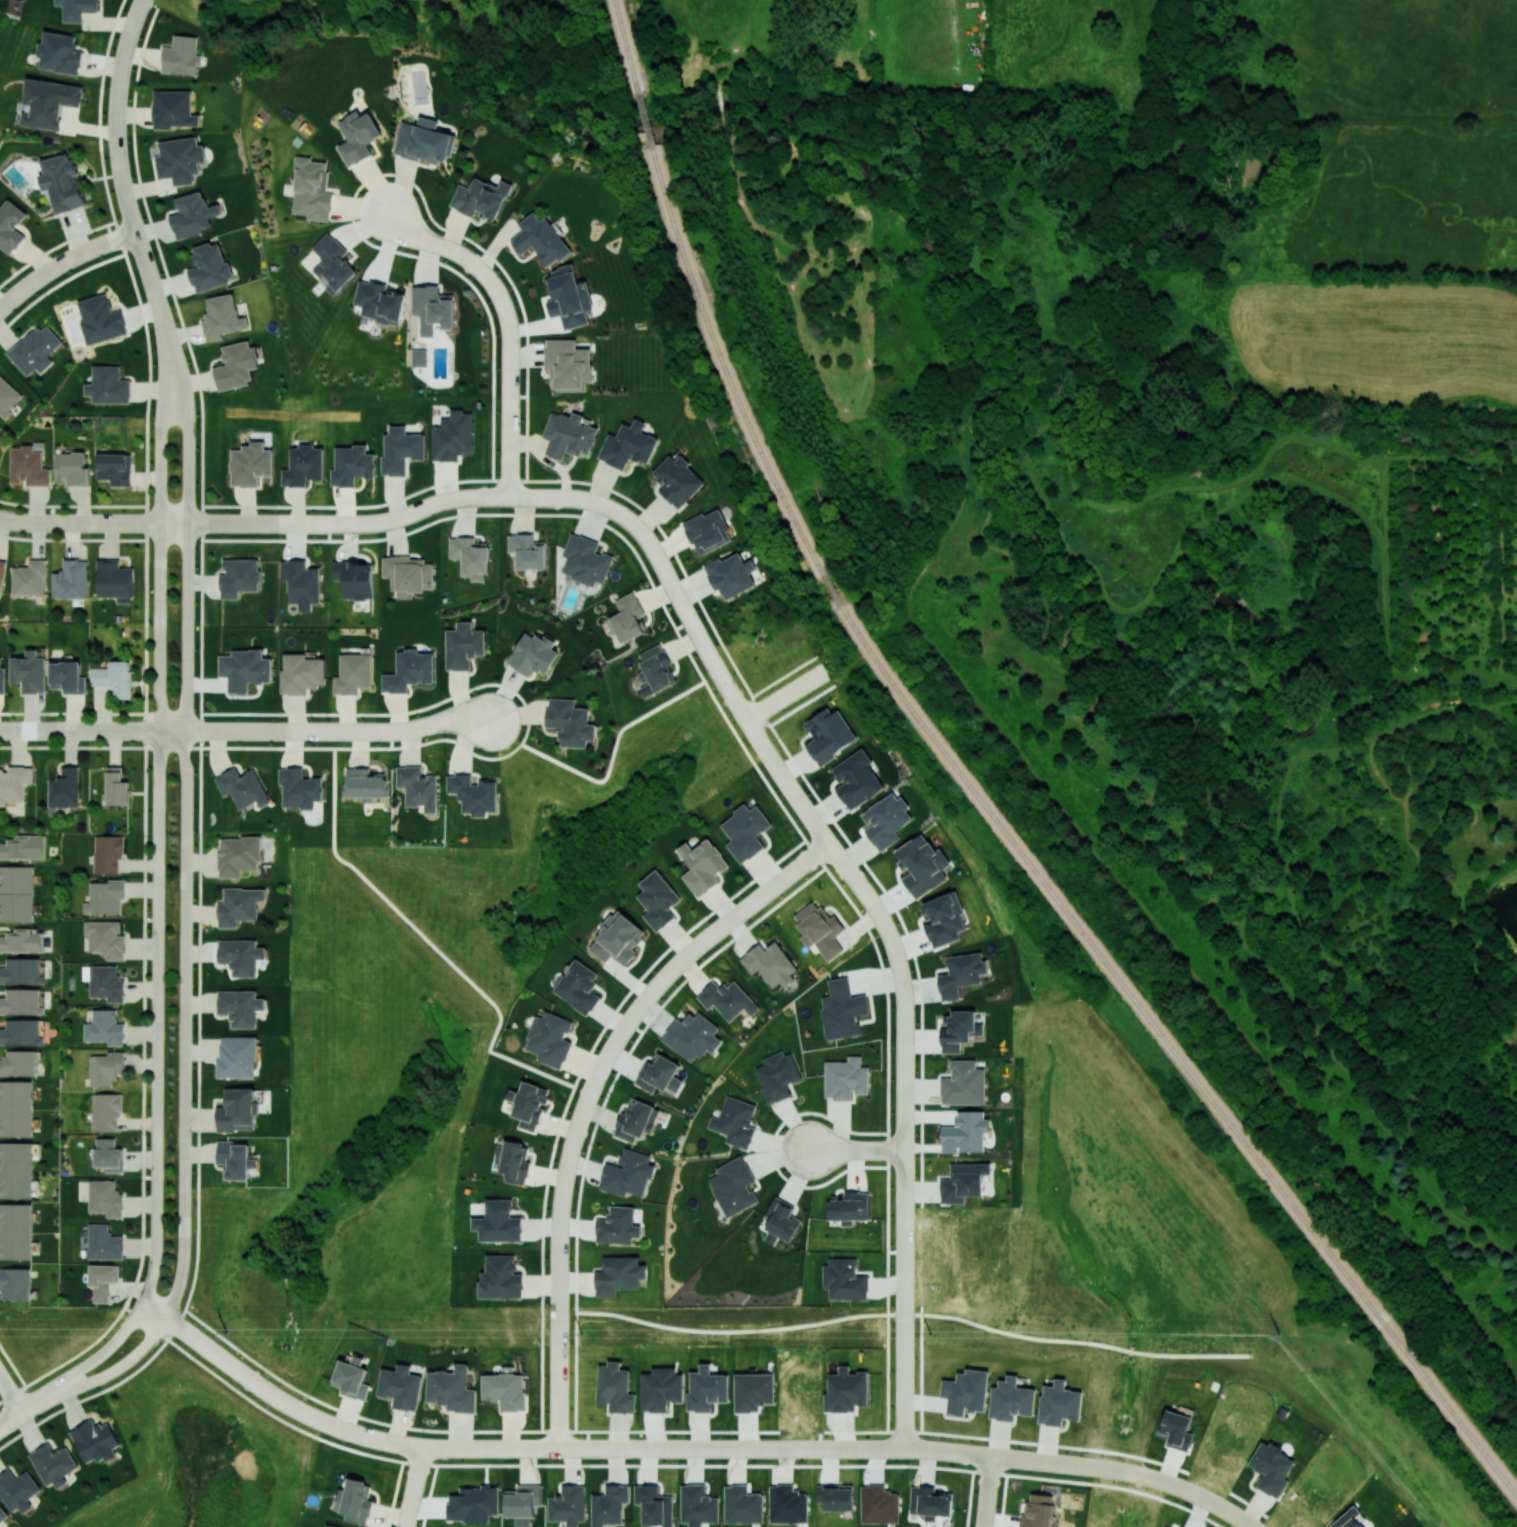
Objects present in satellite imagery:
road: (142, 0)
building: (77, 8)
park: (4, 10)
park: (187, 10)
railway: (618, 16)
building: (60, 52)
building: (181, 55)
railway: (629, 61)
road: (120, 65)
park: (542, 98)
building: (49, 102)
building: (173, 109)
railway: (644, 118)
building: (358, 136)
building: (425, 141)
building: (179, 159)
building: (61, 182)
building: (311, 190)
building: (480, 198)
building: (192, 215)
road: (133, 223)
building: (10, 226)
building: (540, 239)
road: (62, 260)
building: (332, 263)
building: (210, 267)
railway: (691, 278)
building: (569, 297)
building: (379, 302)
building: (432, 308)
building: (222, 317)
building: (100, 319)
road: (507, 321)
building: (35, 349)
road: (174, 352)
building: (419, 357)
building: (568, 363)
road: (162, 364)
building: (237, 364)
building: (108, 385)
building: (7, 397)
road: (185, 404)
building: (568, 435)
building: (453, 436)
building: (627, 445)
building: (400, 449)
building: (250, 464)
building: (303, 465)
building: (352, 465)
building: (28, 466)
building: (114, 468)
building: (71, 469)
building: (677, 480)
road: (397, 519)
road: (80, 523)
building: (707, 530)
building: (527, 551)
building: (470, 557)
building: (585, 560)
road: (662, 565)
road: (160, 572)
road: (187, 572)
building: (731, 574)
building: (1, 575)
building: (408, 575)
building: (239, 577)
building: (29, 578)
building: (114, 579)
building: (355, 579)
building: (70, 580)
building: (301, 582)
building: (627, 617)
road: (703, 643)
building: (463, 645)
building: (533, 653)
building: (244, 668)
building: (655, 669)
building: (29, 671)
building: (409, 671)
building: (301, 673)
building: (353, 673)
building: (67, 676)
building: (114, 677)
building: (2, 678)
road: (731, 692)
road: (787, 693)
road: (79, 712)
building: (570, 722)
road: (414, 726)
road: (144, 729)
road: (258, 729)
road: (93, 730)
road: (334, 730)
building: (828, 734)
road: (757, 736)
road: (452, 740)
road: (613, 753)
road: (200, 769)
building: (856, 779)
building: (14, 783)
building: (364, 784)
building: (116, 787)
building: (243, 787)
building: (417, 787)
building: (64, 788)
building: (299, 788)
building: (473, 793)
building: (886, 820)
park: (1167, 827)
building: (745, 831)
building: (23, 847)
building: (108, 854)
building: (239, 855)
building: (702, 865)
building: (921, 865)
building: (16, 893)
building: (105, 897)
building: (658, 899)
building: (239, 905)
building: (944, 919)
building: (819, 929)
building: (106, 938)
road: (427, 939)
building: (618, 939)
building: (22, 940)
road: (692, 950)
building: (240, 955)
road: (184, 957)
railway: (1108, 962)
building: (770, 963)
building: (21, 970)
building: (961, 973)
building: (104, 982)
building: (578, 986)
building: (727, 999)
building: (21, 1001)
building: (240, 1006)
building: (842, 1009)
road: (156, 1019)
building: (104, 1027)
building: (959, 1030)
building: (21, 1032)
building: (692, 1036)
building: (550, 1039)
park: (397, 1051)
building: (237, 1056)
park: (758, 1058)
park: (758, 1058)
building: (18, 1062)
building: (106, 1067)
building: (660, 1075)
building: (777, 1075)
building: (845, 1078)
road: (903, 1081)
building: (963, 1083)
road: (589, 1092)
building: (528, 1104)
building: (16, 1108)
building: (237, 1110)
building: (106, 1111)
building: (636, 1119)
building: (735, 1121)
road: (856, 1149)
building: (108, 1154)
building: (235, 1159)
building: (515, 1162)
building: (16, 1169)
building: (628, 1173)
building: (963, 1181)
building: (733, 1186)
building: (105, 1198)
building: (848, 1206)
building: (781, 1219)
building: (498, 1222)
building: (617, 1225)
building: (15, 1231)
building: (103, 1242)
road: (182, 1253)
road: (559, 1270)
building: (619, 1274)
building: (500, 1277)
building: (844, 1279)
building: (102, 1280)
building: (15, 1283)
road: (154, 1312)
road: (914, 1314)
power tower: (226, 1333)
power tower: (581, 1333)
power tower: (1278, 1334)
power tower: (930, 1335)
road: (115, 1337)
road: (232, 1365)
road: (12, 1366)
road: (115, 1368)
building: (351, 1378)
road: (67, 1379)
building: (400, 1386)
building: (615, 1388)
building: (661, 1388)
building: (706, 1388)
building: (451, 1389)
building: (505, 1390)
building: (846, 1390)
building: (753, 1391)
building: (966, 1391)
road: (10, 1392)
building: (1010, 1399)
road: (35, 1401)
park: (7, 1402)
building: (1058, 1403)
road: (10, 1416)
road: (311, 1416)
building: (1176, 1429)
building: (95, 1440)
road: (474, 1445)
road: (657, 1446)
road: (882, 1447)
building: (53, 1464)
road: (1087, 1466)
building: (1271, 1468)
road: (1118, 1469)
road: (1155, 1478)
road: (415, 1486)
building: (18, 1490)
road: (985, 1492)
road: (394, 1494)
building: (836, 1496)
building: (522, 1500)
building: (354, 1501)
building: (930, 1502)
road: (1212, 1502)
building: (473, 1504)
building: (608, 1504)
building: (787, 1504)
building: (879, 1504)
building: (568, 1505)
building: (654, 1505)
building: (697, 1505)
building: (742, 1505)
building: (1038, 1511)
building: (2, 1514)
building: (1349, 1519)
building: (329, 1525)
building: (1164, 1526)

